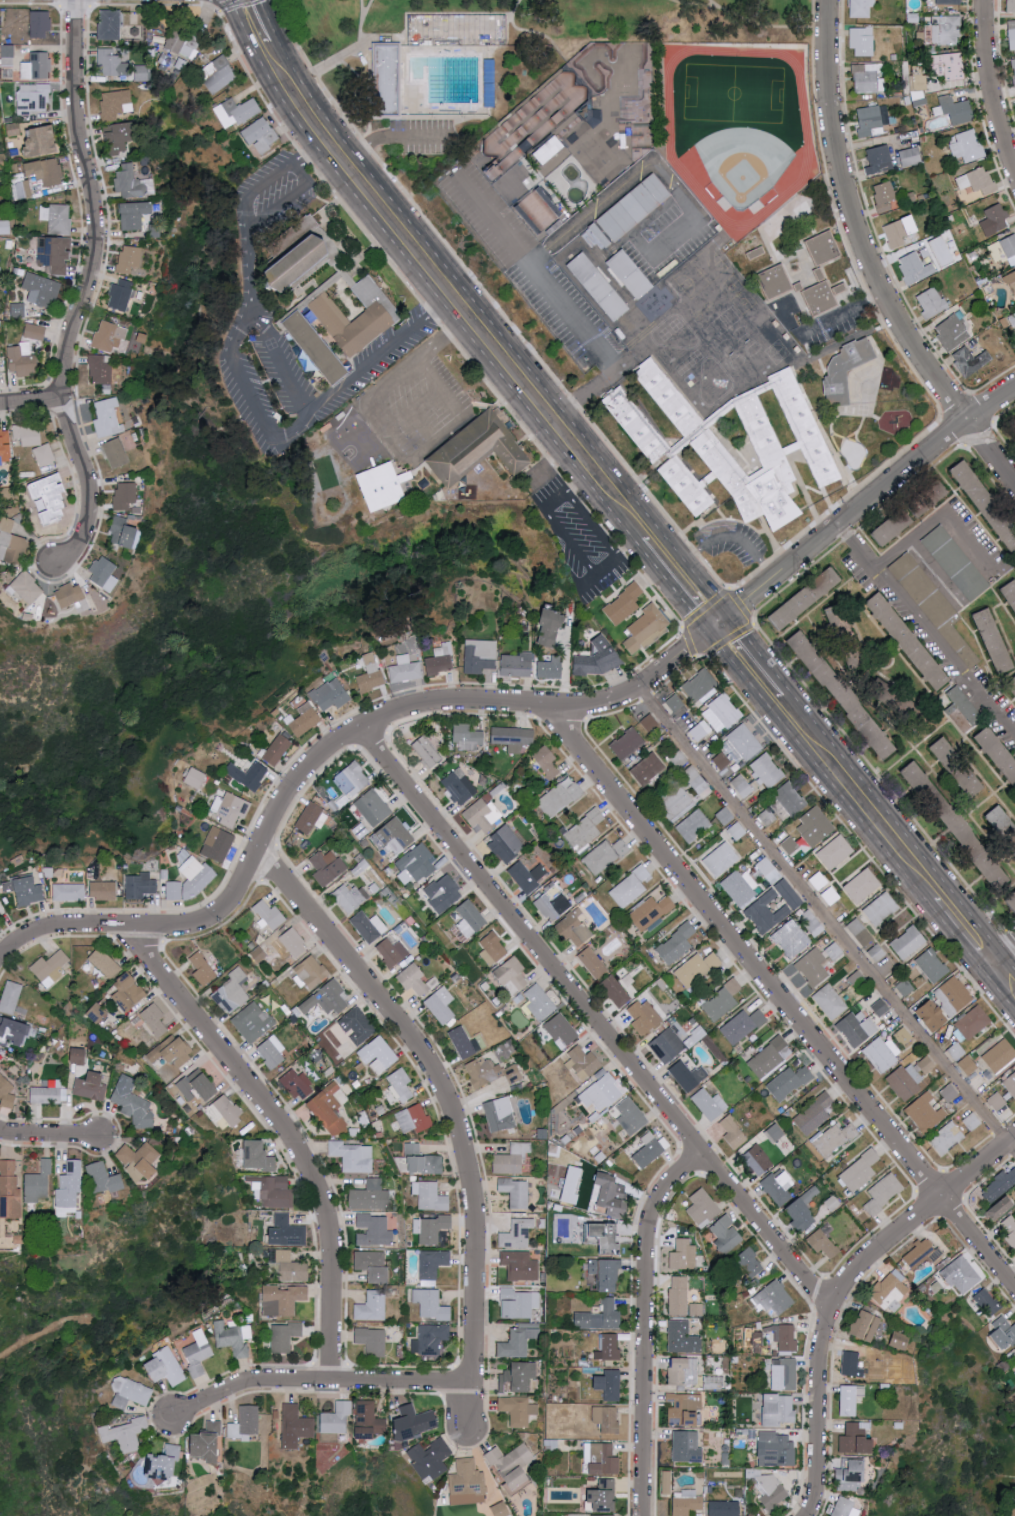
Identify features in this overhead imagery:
building: (950, 2)
road: (695, 5)
building: (1011, 5)
building: (862, 8)
road: (369, 9)
road: (426, 15)
road: (269, 20)
road: (768, 23)
building: (110, 24)
building: (38, 26)
building: (940, 31)
road: (531, 33)
building: (1012, 34)
building: (862, 40)
building: (183, 43)
road: (352, 54)
building: (8, 55)
park: (494, 59)
building: (113, 62)
building: (1014, 65)
building: (37, 66)
building: (951, 66)
road: (371, 67)
building: (142, 72)
building: (218, 74)
building: (388, 74)
building: (923, 80)
road: (993, 85)
road: (371, 95)
building: (34, 99)
building: (115, 103)
building: (955, 109)
building: (544, 110)
building: (235, 111)
building: (870, 121)
building: (13, 129)
building: (261, 134)
park: (571, 135)
building: (122, 137)
parking lot: (425, 138)
road: (399, 139)
building: (43, 142)
building: (969, 146)
building: (549, 150)
building: (911, 156)
road: (309, 159)
building: (879, 159)
building: (3, 161)
road: (644, 170)
building: (46, 171)
building: (978, 180)
building: (131, 183)
building: (24, 189)
building: (885, 194)
parking lot: (273, 195)
road: (286, 203)
building: (540, 209)
building: (635, 213)
building: (136, 214)
building: (57, 218)
building: (996, 220)
building: (5, 227)
building: (901, 231)
parking lot: (675, 237)
building: (936, 246)
building: (1004, 249)
building: (827, 252)
building: (55, 253)
building: (759, 254)
building: (130, 259)
road: (871, 259)
building: (302, 262)
building: (915, 268)
parking lot: (532, 271)
road: (418, 272)
building: (820, 274)
building: (635, 276)
building: (1012, 279)
building: (774, 287)
building: (603, 289)
road: (88, 290)
building: (47, 293)
building: (121, 294)
building: (826, 300)
building: (932, 302)
road: (560, 303)
road: (847, 315)
building: (360, 318)
parking lot: (828, 329)
building: (35, 331)
building: (952, 332)
road: (497, 333)
building: (110, 336)
building: (778, 341)
building: (317, 348)
building: (23, 360)
building: (970, 360)
road: (282, 364)
building: (104, 370)
building: (846, 375)
parking lot: (299, 376)
road: (248, 396)
road: (31, 398)
parking lot: (403, 416)
building: (107, 417)
road: (397, 420)
building: (805, 433)
building: (27, 435)
building: (5, 447)
building: (477, 451)
building: (116, 453)
building: (45, 454)
building: (709, 456)
road: (365, 459)
road: (548, 466)
building: (387, 486)
building: (125, 495)
building: (51, 498)
building: (988, 502)
road: (940, 517)
building: (898, 527)
parking lot: (571, 530)
building: (125, 533)
road: (630, 536)
road: (733, 537)
parking lot: (731, 542)
building: (12, 543)
building: (955, 563)
road: (578, 571)
building: (105, 573)
road: (933, 574)
building: (28, 587)
road: (672, 590)
building: (1011, 590)
building: (73, 597)
building: (804, 600)
building: (624, 603)
building: (933, 606)
building: (842, 617)
building: (553, 627)
building: (648, 627)
road: (928, 629)
building: (996, 639)
building: (911, 640)
building: (479, 655)
building: (600, 657)
building: (441, 659)
road: (749, 661)
building: (517, 664)
building: (550, 667)
building: (405, 669)
building: (371, 673)
building: (699, 683)
building: (1014, 689)
building: (845, 693)
building: (331, 694)
building: (675, 702)
building: (965, 705)
road: (504, 706)
building: (721, 713)
building: (303, 719)
building: (650, 722)
building: (700, 730)
building: (468, 736)
building: (514, 737)
building: (743, 741)
building: (627, 743)
building: (277, 749)
building: (999, 750)
building: (426, 751)
building: (952, 756)
building: (721, 760)
building: (546, 761)
building: (648, 768)
building: (766, 771)
building: (248, 774)
building: (693, 774)
building: (919, 777)
building: (196, 778)
building: (352, 780)
building: (742, 785)
building: (459, 787)
building: (560, 797)
road: (859, 797)
building: (787, 801)
building: (676, 803)
building: (230, 807)
building: (373, 807)
building: (483, 814)
building: (725, 815)
building: (309, 816)
building: (767, 817)
building: (1003, 821)
building: (694, 825)
building: (815, 826)
building: (583, 830)
building: (737, 830)
building: (393, 837)
building: (218, 844)
building: (506, 844)
building: (790, 844)
building: (836, 852)
building: (604, 855)
building: (720, 860)
building: (418, 862)
building: (765, 865)
building: (327, 867)
building: (194, 873)
building: (527, 875)
building: (819, 880)
building: (140, 885)
building: (862, 885)
building: (630, 887)
building: (740, 888)
building: (28, 890)
building: (104, 890)
building: (173, 890)
building: (69, 891)
building: (444, 892)
building: (789, 893)
building: (831, 895)
building: (348, 898)
building: (1011, 903)
building: (553, 904)
building: (881, 908)
building: (0, 911)
building: (652, 911)
building: (766, 912)
building: (271, 914)
building: (470, 918)
road: (827, 921)
building: (812, 922)
building: (368, 926)
road: (966, 928)
building: (575, 929)
building: (860, 932)
building: (792, 938)
building: (908, 941)
building: (677, 943)
building: (291, 944)
building: (493, 948)
building: (392, 950)
building: (835, 951)
building: (877, 952)
road: (1004, 953)
building: (593, 962)
building: (105, 963)
building: (932, 965)
building: (813, 966)
building: (50, 967)
building: (203, 968)
building: (697, 968)
building: (789, 970)
building: (310, 971)
building: (512, 972)
road: (1004, 975)
building: (857, 978)
building: (415, 979)
building: (801, 984)
building: (905, 986)
building: (130, 991)
building: (233, 991)
building: (616, 991)
building: (11, 997)
building: (327, 998)
road: (782, 998)
building: (723, 1000)
building: (830, 1001)
building: (539, 1002)
building: (945, 1004)
building: (441, 1005)
building: (644, 1016)
building: (155, 1019)
road: (596, 1020)
building: (253, 1021)
building: (973, 1022)
building: (358, 1025)
building: (743, 1025)
building: (857, 1027)
building: (14, 1028)
building: (561, 1030)
building: (904, 1035)
building: (461, 1042)
building: (668, 1045)
building: (173, 1050)
building: (272, 1051)
building: (880, 1054)
building: (1000, 1054)
building: (80, 1055)
building: (378, 1055)
building: (770, 1056)
building: (584, 1062)
building: (927, 1064)
building: (968, 1064)
building: (484, 1070)
building: (689, 1075)
building: (789, 1081)
building: (906, 1081)
building: (298, 1082)
building: (1011, 1083)
building: (199, 1084)
building: (401, 1084)
building: (7, 1085)
building: (91, 1086)
building: (603, 1092)
building: (950, 1092)
building: (46, 1094)
building: (997, 1101)
building: (133, 1103)
building: (710, 1104)
building: (329, 1109)
road: (451, 1110)
building: (225, 1111)
building: (926, 1112)
building: (500, 1113)
building: (815, 1113)
building: (631, 1116)
building: (414, 1118)
building: (972, 1121)
building: (772, 1129)
road: (287, 1133)
building: (733, 1133)
road: (51, 1136)
building: (834, 1138)
building: (946, 1138)
building: (651, 1149)
building: (260, 1155)
building: (353, 1156)
building: (512, 1158)
building: (423, 1160)
building: (758, 1160)
building: (139, 1161)
building: (861, 1171)
building: (103, 1178)
building: (38, 1183)
building: (70, 1183)
building: (573, 1184)
building: (1000, 1185)
building: (779, 1186)
building: (10, 1190)
building: (273, 1190)
building: (516, 1191)
building: (884, 1193)
building: (613, 1194)
building: (371, 1196)
building: (431, 1196)
building: (703, 1207)
building: (1003, 1207)
building: (805, 1210)
building: (1008, 1228)
building: (372, 1229)
building: (433, 1229)
building: (288, 1230)
building: (520, 1231)
building: (726, 1234)
building: (608, 1236)
building: (823, 1243)
building: (683, 1254)
building: (923, 1254)
building: (750, 1261)
building: (373, 1265)
building: (432, 1265)
building: (520, 1265)
building: (290, 1267)
building: (606, 1274)
building: (962, 1275)
building: (891, 1290)
road: (842, 1291)
building: (679, 1295)
building: (775, 1297)
building: (283, 1299)
building: (988, 1301)
building: (519, 1303)
building: (431, 1304)
building: (372, 1306)
building: (697, 1309)
building: (600, 1317)
road: (647, 1324)
building: (866, 1325)
building: (1005, 1332)
building: (285, 1336)
building: (785, 1336)
building: (682, 1337)
building: (769, 1337)
building: (233, 1338)
building: (758, 1338)
building: (430, 1339)
building: (372, 1340)
building: (518, 1340)
building: (900, 1340)
building: (609, 1347)
building: (198, 1353)
building: (851, 1360)
building: (167, 1366)
building: (683, 1371)
building: (784, 1374)
building: (520, 1377)
building: (710, 1382)
building: (610, 1384)
road: (319, 1385)
building: (131, 1392)
building: (850, 1399)
building: (682, 1406)
building: (518, 1409)
building: (779, 1409)
building: (337, 1418)
building: (607, 1418)
building: (695, 1419)
building: (369, 1420)
building: (416, 1422)
building: (245, 1423)
building: (295, 1426)
building: (126, 1434)
building: (857, 1439)
building: (209, 1442)
building: (687, 1447)
building: (776, 1449)
building: (431, 1458)
building: (602, 1458)
building: (165, 1463)
building: (513, 1464)
building: (852, 1474)
building: (667, 1482)
building: (468, 1483)
building: (772, 1490)
building: (605, 1495)
building: (688, 1503)
building: (846, 1507)
building: (725, 1508)
building: (502, 1509)
building: (609, 1515)

